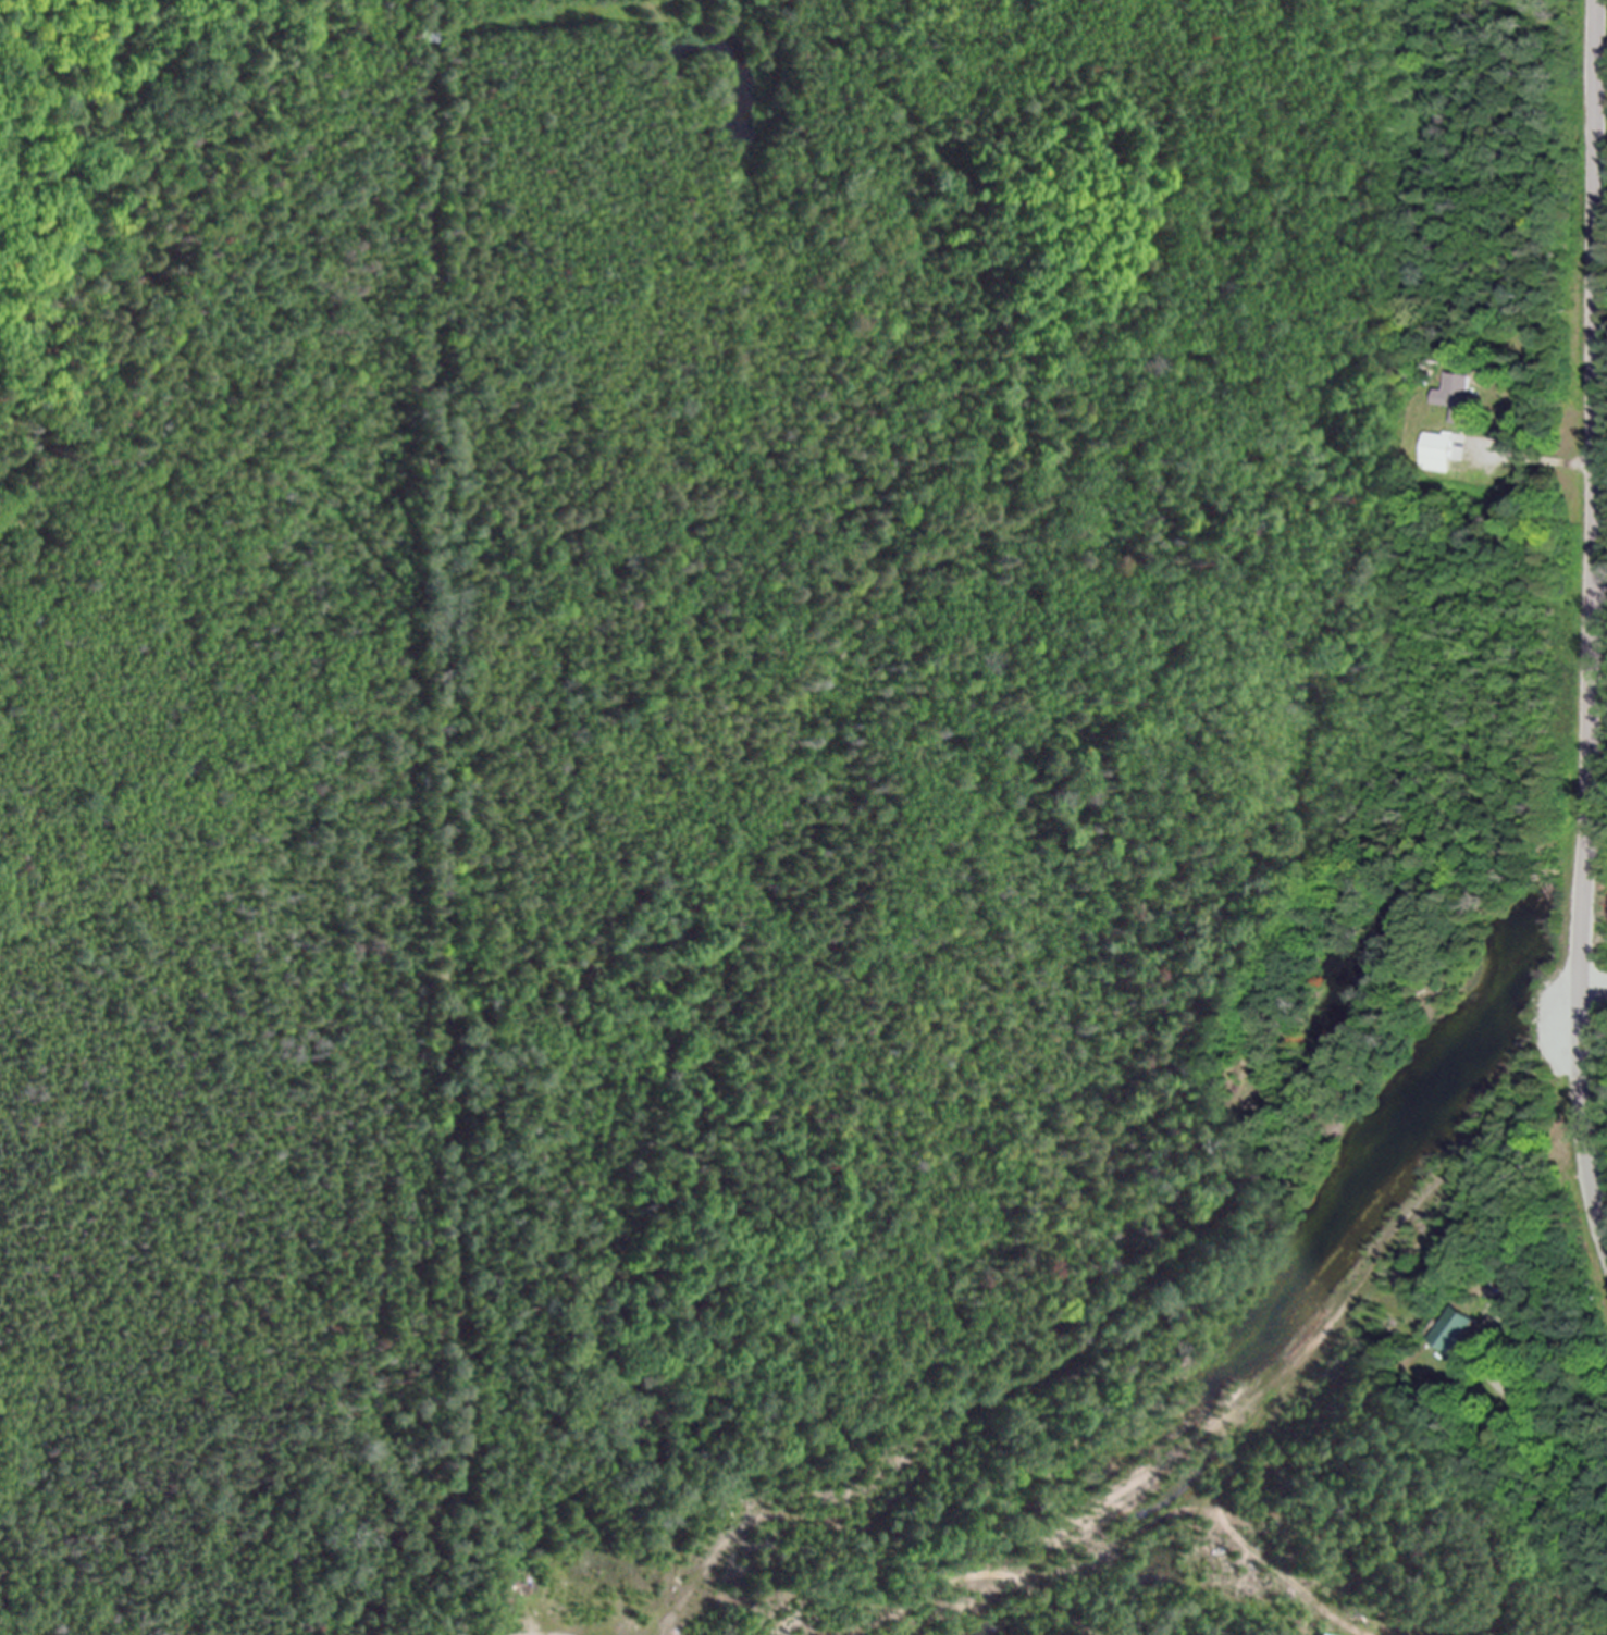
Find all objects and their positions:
building: (1460, 397)
building: (1443, 451)
road: (1547, 460)
road: (1599, 586)
road: (1591, 623)
building: (1454, 1329)
road: (1540, 1600)
building: (1322, 1634)

